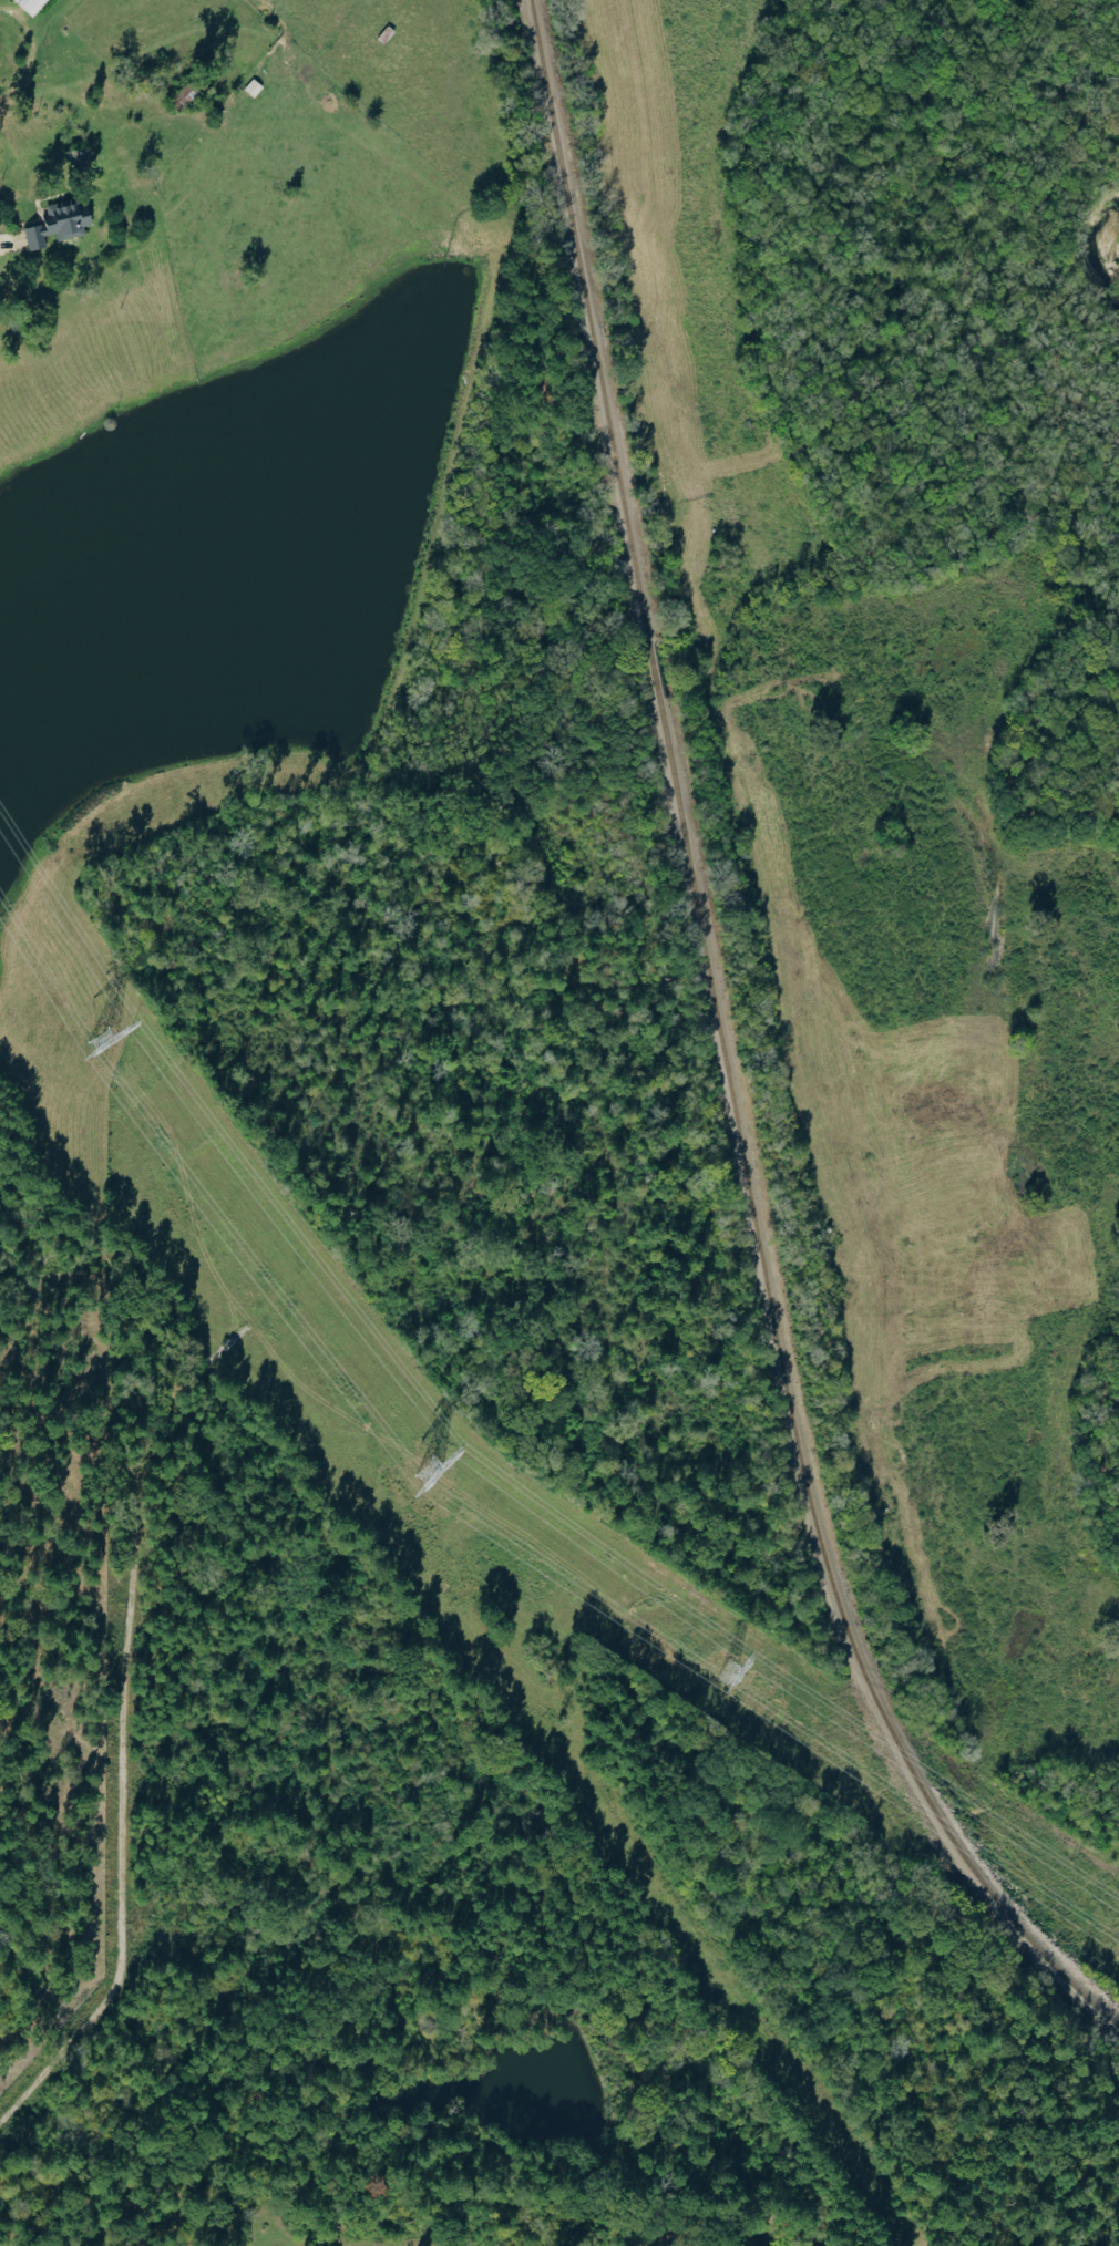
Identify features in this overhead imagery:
road: (33, 104)
building: (57, 224)
river: (1118, 239)
railway: (586, 321)
railway: (653, 672)
power tower: (101, 1040)
railway: (787, 1410)
power tower: (423, 1471)
power tower: (727, 1673)
road: (163, 2160)

